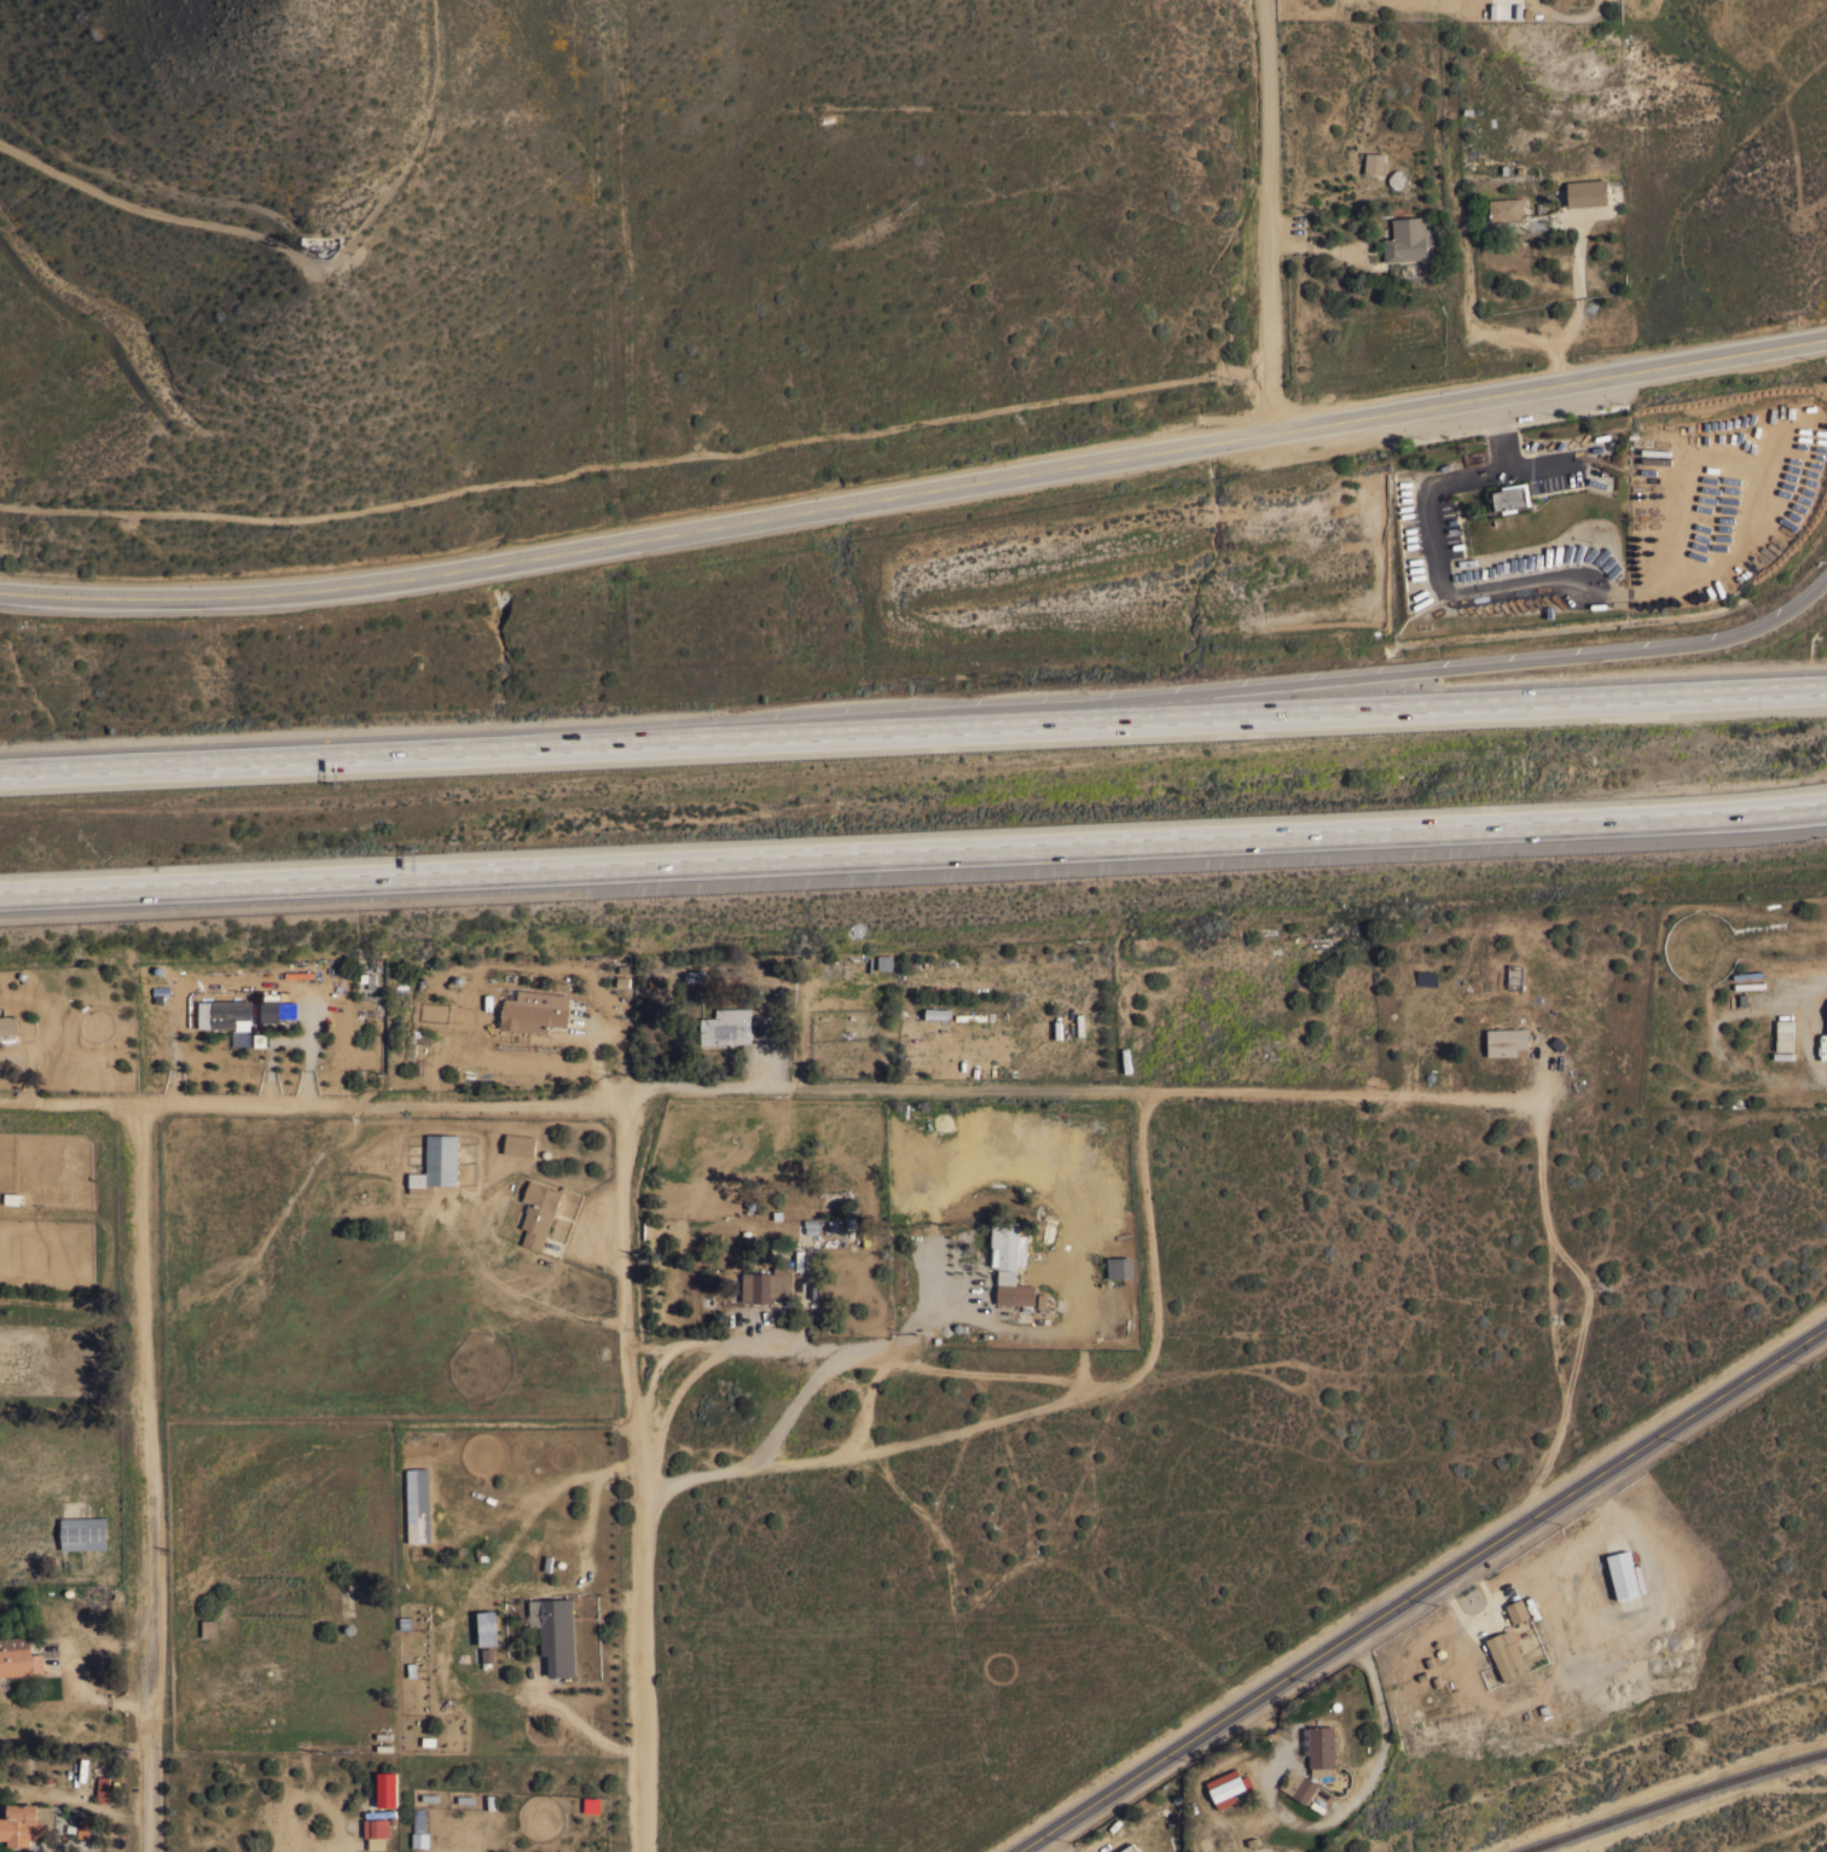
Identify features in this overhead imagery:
building: (1502, 8)
building: (1374, 162)
building: (1397, 178)
building: (1587, 192)
building: (1506, 208)
road: (1268, 210)
building: (1406, 238)
building: (1655, 451)
building: (1655, 460)
road: (915, 484)
building: (1512, 497)
road: (1405, 677)
road: (1399, 712)
road: (486, 753)
road: (913, 852)
building: (884, 962)
building: (858, 964)
building: (298, 974)
building: (694, 975)
building: (1515, 976)
building: (1748, 985)
building: (269, 1006)
building: (225, 1014)
building: (938, 1014)
building: (532, 1015)
building: (969, 1016)
building: (1825, 1016)
building: (726, 1026)
building: (7, 1028)
building: (1785, 1034)
building: (1507, 1041)
road: (1295, 1090)
road: (309, 1102)
building: (520, 1144)
building: (436, 1163)
building: (13, 1198)
building: (538, 1212)
building: (1008, 1243)
building: (1120, 1267)
building: (771, 1284)
building: (1013, 1289)
road: (741, 1342)
road: (812, 1382)
road: (634, 1476)
road: (143, 1477)
building: (417, 1504)
building: (83, 1532)
building: (1624, 1574)
road: (1423, 1590)
building: (1516, 1609)
building: (488, 1626)
building: (208, 1627)
building: (555, 1632)
building: (1506, 1654)
building: (18, 1656)
building: (1321, 1748)
building: (1229, 1787)
building: (103, 1788)
building: (387, 1788)
building: (1304, 1788)
railway: (1678, 1799)
road: (1342, 1800)
building: (25, 1823)
building: (87, 1825)
building: (376, 1827)
building: (377, 1842)
building: (1129, 1848)

